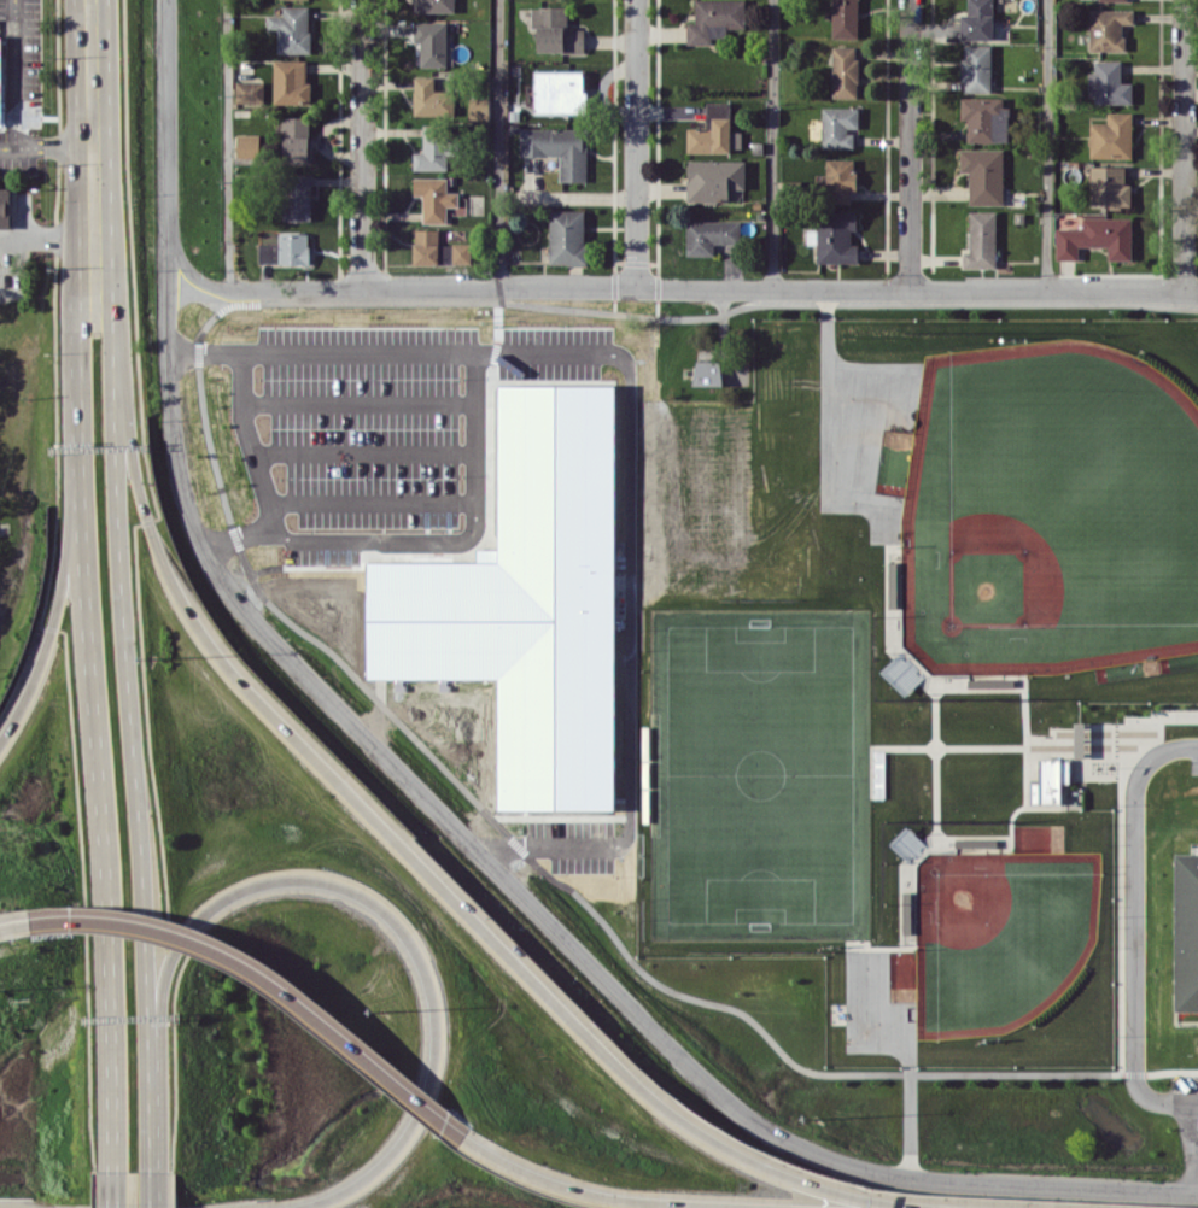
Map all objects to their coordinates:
building: (1115, 0)
building: (433, 5)
building: (845, 18)
building: (714, 19)
building: (977, 20)
building: (1108, 28)
building: (292, 29)
building: (555, 30)
building: (431, 42)
road: (92, 46)
building: (976, 68)
building: (845, 71)
building: (0, 72)
building: (291, 82)
building: (1109, 83)
building: (559, 90)
building: (249, 92)
building: (429, 98)
building: (479, 109)
road: (10, 110)
building: (984, 118)
building: (838, 125)
building: (714, 131)
building: (1111, 136)
building: (296, 139)
road: (226, 143)
road: (362, 143)
road: (499, 143)
road: (635, 143)
road: (772, 143)
road: (908, 143)
road: (1045, 143)
building: (247, 145)
building: (436, 147)
road: (1182, 147)
building: (559, 148)
building: (983, 175)
building: (713, 178)
building: (840, 180)
building: (1109, 186)
building: (296, 197)
building: (437, 199)
building: (5, 207)
building: (709, 235)
building: (566, 236)
building: (834, 236)
building: (1095, 238)
building: (981, 240)
building: (437, 248)
building: (286, 250)
road: (12, 286)
road: (683, 287)
building: (707, 373)
road: (358, 399)
road: (474, 422)
road: (249, 435)
road: (364, 450)
road: (629, 467)
building: (543, 480)
road: (373, 498)
park: (1050, 514)
road: (384, 538)
road: (58, 596)
road: (125, 629)
road: (84, 631)
park: (776, 670)
building: (481, 678)
building: (1079, 739)
road: (1186, 745)
park: (761, 774)
building: (1048, 780)
road: (434, 808)
building: (976, 842)
building: (906, 843)
road: (420, 867)
road: (370, 899)
building: (906, 911)
road: (16, 923)
building: (1187, 928)
road: (1130, 934)
road: (270, 980)
parking lot: (1179, 1115)
road: (1186, 1115)
road: (1194, 1163)
road: (115, 1189)
road: (153, 1189)
road: (610, 1197)

